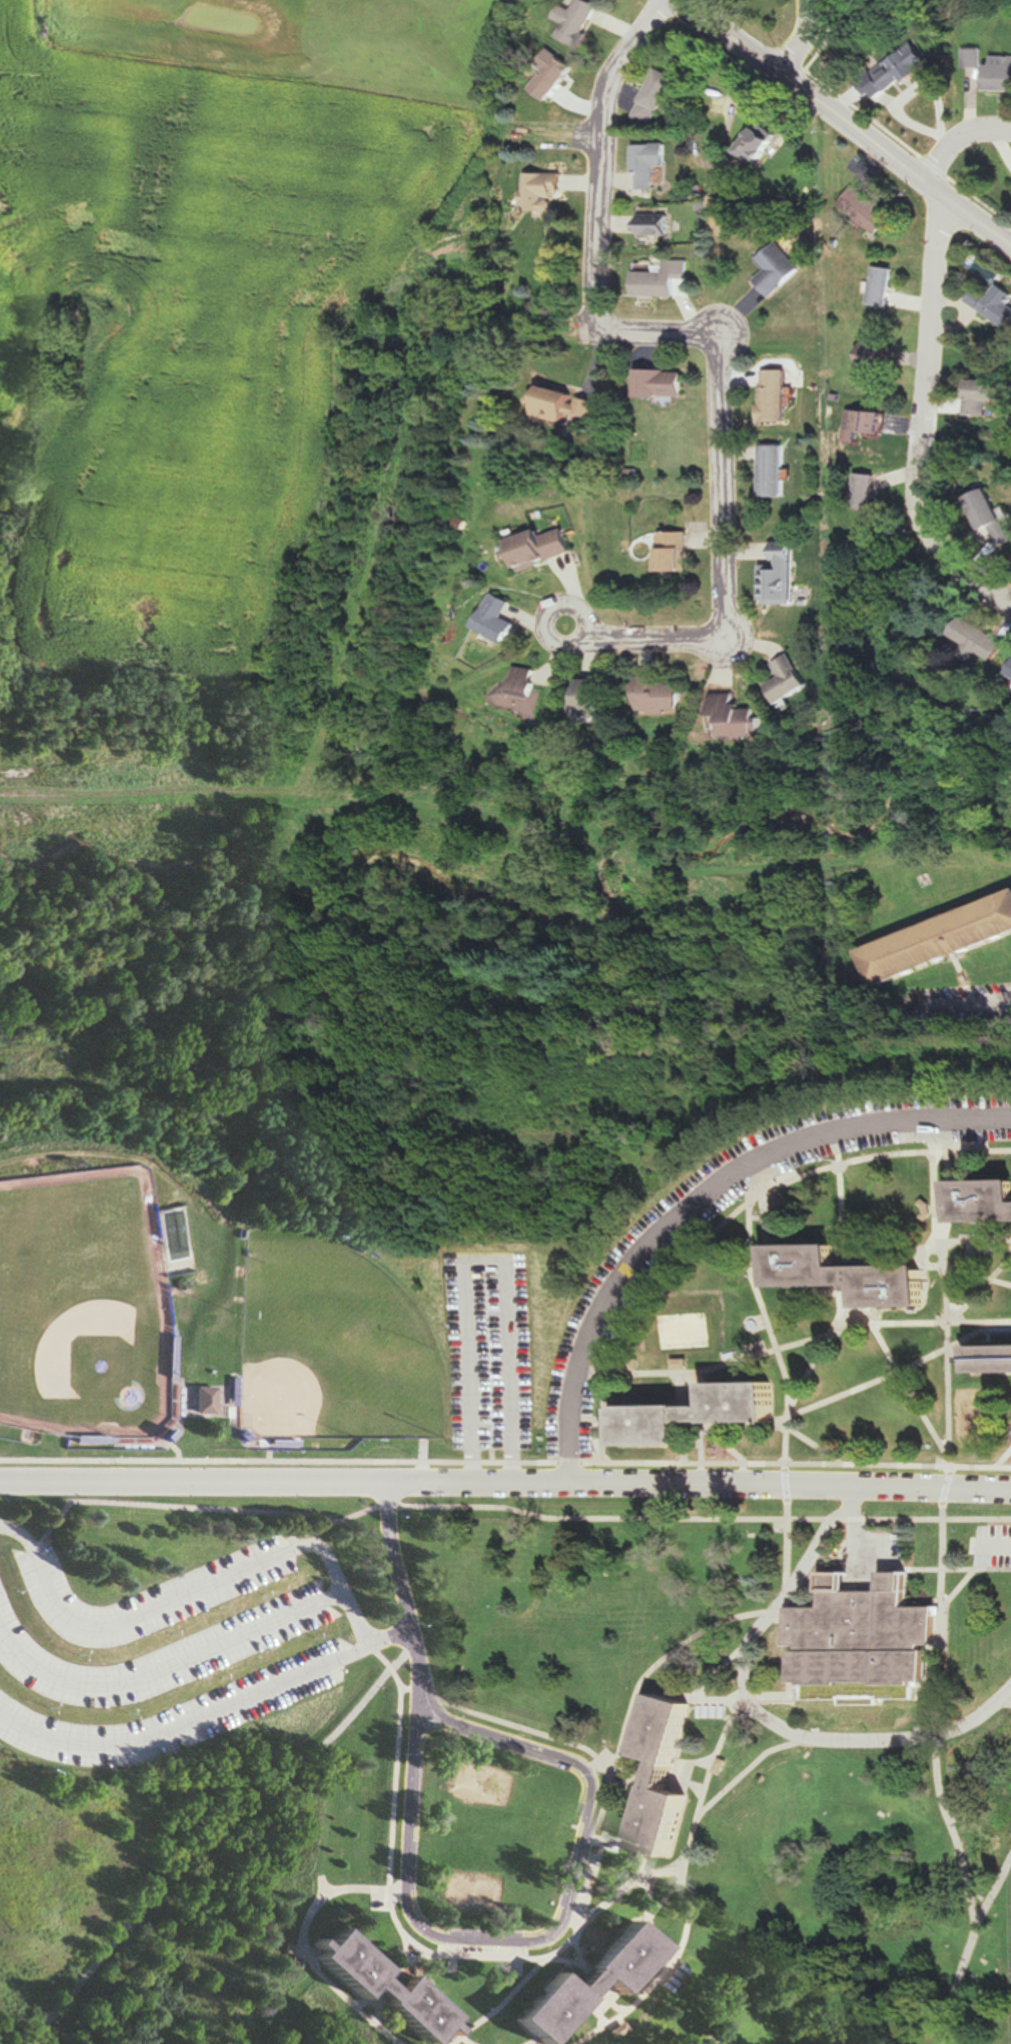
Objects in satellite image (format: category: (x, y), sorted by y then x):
building: (580, 21)
road: (814, 41)
building: (975, 57)
building: (906, 66)
building: (1001, 74)
building: (557, 78)
building: (877, 92)
building: (658, 96)
road: (848, 118)
building: (764, 143)
road: (959, 143)
road: (601, 155)
building: (649, 164)
building: (546, 190)
building: (867, 210)
building: (659, 223)
building: (778, 269)
building: (664, 279)
building: (884, 286)
building: (1000, 306)
road: (659, 331)
building: (875, 355)
building: (663, 384)
building: (776, 397)
building: (986, 398)
building: (568, 409)
road: (925, 415)
building: (865, 424)
building: (775, 472)
building: (868, 492)
building: (994, 517)
building: (545, 546)
building: (675, 550)
road: (727, 567)
building: (784, 575)
building: (503, 618)
building: (984, 639)
building: (794, 679)
building: (525, 690)
building: (597, 696)
building: (664, 696)
building: (743, 716)
building: (941, 940)
road: (418, 962)
road: (964, 1006)
road: (951, 1134)
road: (846, 1193)
road: (702, 1200)
building: (985, 1200)
road: (734, 1217)
road: (929, 1246)
road: (497, 1260)
road: (979, 1274)
building: (852, 1276)
parking lot: (625, 1277)
road: (761, 1285)
road: (981, 1291)
park: (77, 1296)
road: (947, 1308)
road: (842, 1312)
park: (695, 1333)
road: (811, 1340)
park: (327, 1345)
building: (992, 1354)
parking lot: (496, 1355)
road: (899, 1371)
building: (202, 1400)
road: (793, 1405)
building: (698, 1414)
park: (985, 1419)
road: (712, 1430)
road: (811, 1440)
road: (1004, 1459)
road: (505, 1462)
road: (949, 1463)
road: (505, 1482)
road: (194, 1508)
road: (663, 1519)
road: (977, 1519)
road: (863, 1535)
road: (791, 1541)
parking lot: (994, 1544)
parking lot: (889, 1546)
road: (997, 1546)
road: (942, 1569)
road: (974, 1573)
road: (814, 1580)
road: (398, 1595)
road: (162, 1601)
road: (790, 1613)
road: (946, 1618)
road: (943, 1642)
building: (870, 1643)
road: (213, 1644)
parking lot: (156, 1653)
road: (660, 1662)
road: (796, 1668)
road: (722, 1672)
road: (776, 1699)
road: (1009, 1701)
road: (724, 1702)
road: (766, 1712)
road: (186, 1724)
road: (551, 1754)
road: (720, 1756)
road: (679, 1765)
building: (666, 1777)
park: (485, 1783)
road: (956, 1828)
road: (206, 1832)
road: (598, 1841)
road: (642, 1866)
road: (624, 1884)
road: (688, 1884)
road: (319, 1887)
park: (472, 1891)
road: (666, 1893)
road: (644, 1922)
road: (302, 1946)
road: (972, 1953)
road: (537, 1959)
building: (585, 1985)
building: (383, 1987)
road: (496, 2005)
road: (451, 2035)
road: (464, 2040)

